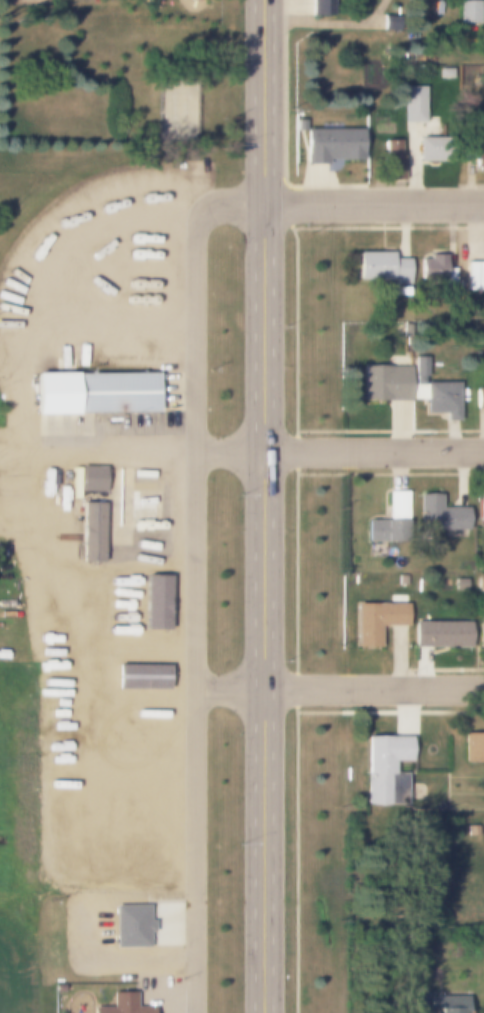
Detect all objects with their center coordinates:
parking lot: (24, 2)
building: (320, 7)
building: (437, 7)
building: (469, 13)
building: (389, 21)
road: (479, 52)
park: (114, 71)
building: (446, 74)
park: (176, 103)
building: (413, 112)
building: (332, 145)
building: (428, 149)
building: (474, 149)
building: (392, 160)
road: (264, 196)
road: (374, 204)
building: (380, 267)
building: (433, 270)
building: (474, 275)
building: (403, 291)
building: (405, 330)
building: (385, 382)
building: (434, 390)
building: (93, 393)
building: (480, 397)
road: (260, 449)
building: (91, 474)
building: (144, 496)
building: (480, 506)
building: (441, 515)
building: (92, 527)
building: (387, 532)
building: (143, 540)
building: (135, 571)
road: (194, 580)
building: (401, 580)
building: (480, 583)
building: (459, 584)
building: (153, 596)
building: (137, 599)
building: (375, 622)
building: (441, 633)
building: (480, 633)
building: (136, 635)
building: (134, 654)
building: (139, 676)
road: (374, 689)
building: (136, 691)
road: (263, 702)
building: (127, 728)
building: (471, 748)
building: (385, 770)
building: (472, 830)
building: (129, 926)
building: (410, 998)
building: (446, 1004)
building: (122, 1005)

